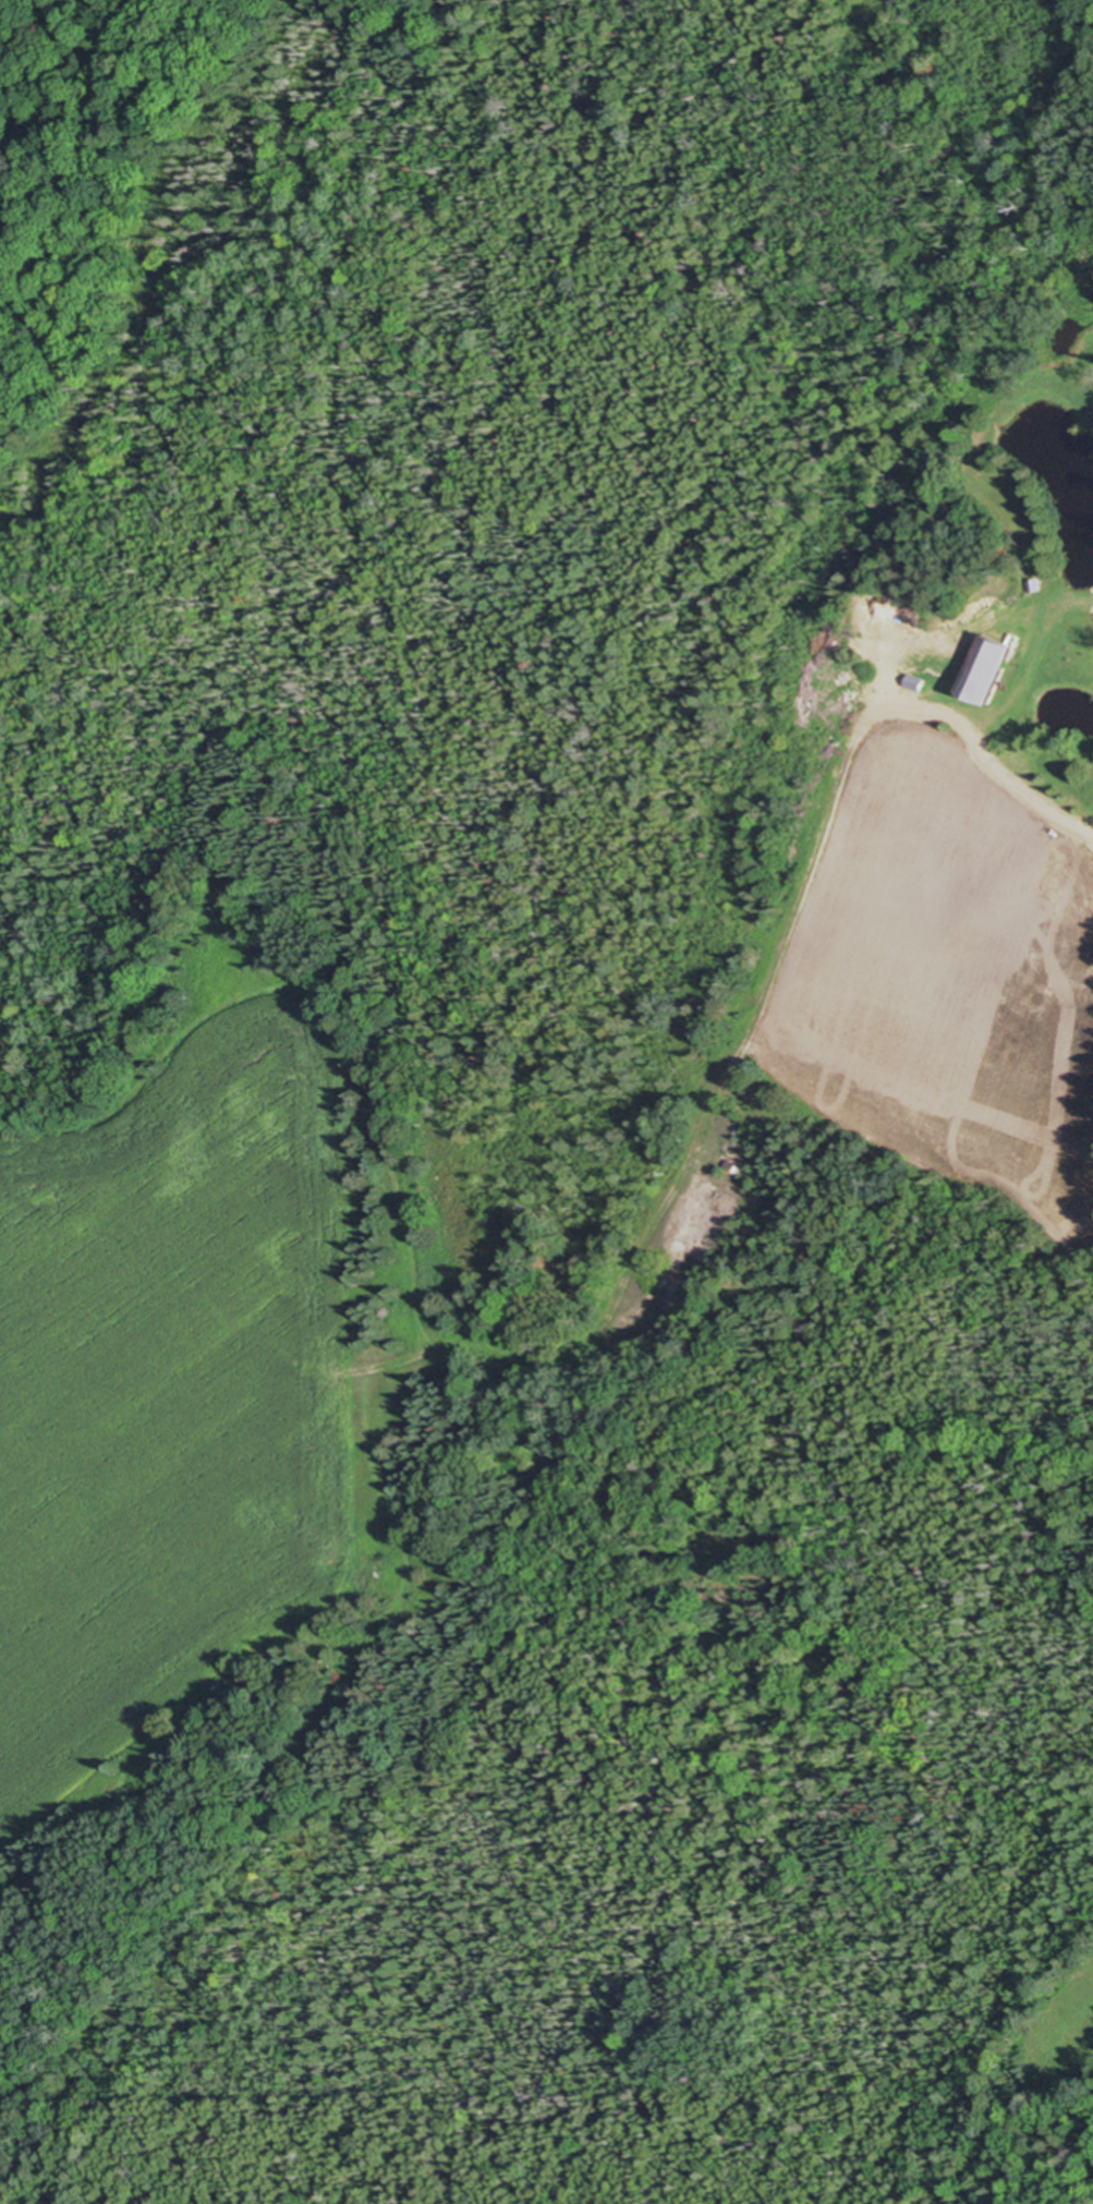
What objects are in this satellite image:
building: (980, 670)
building: (912, 685)
road: (985, 718)

